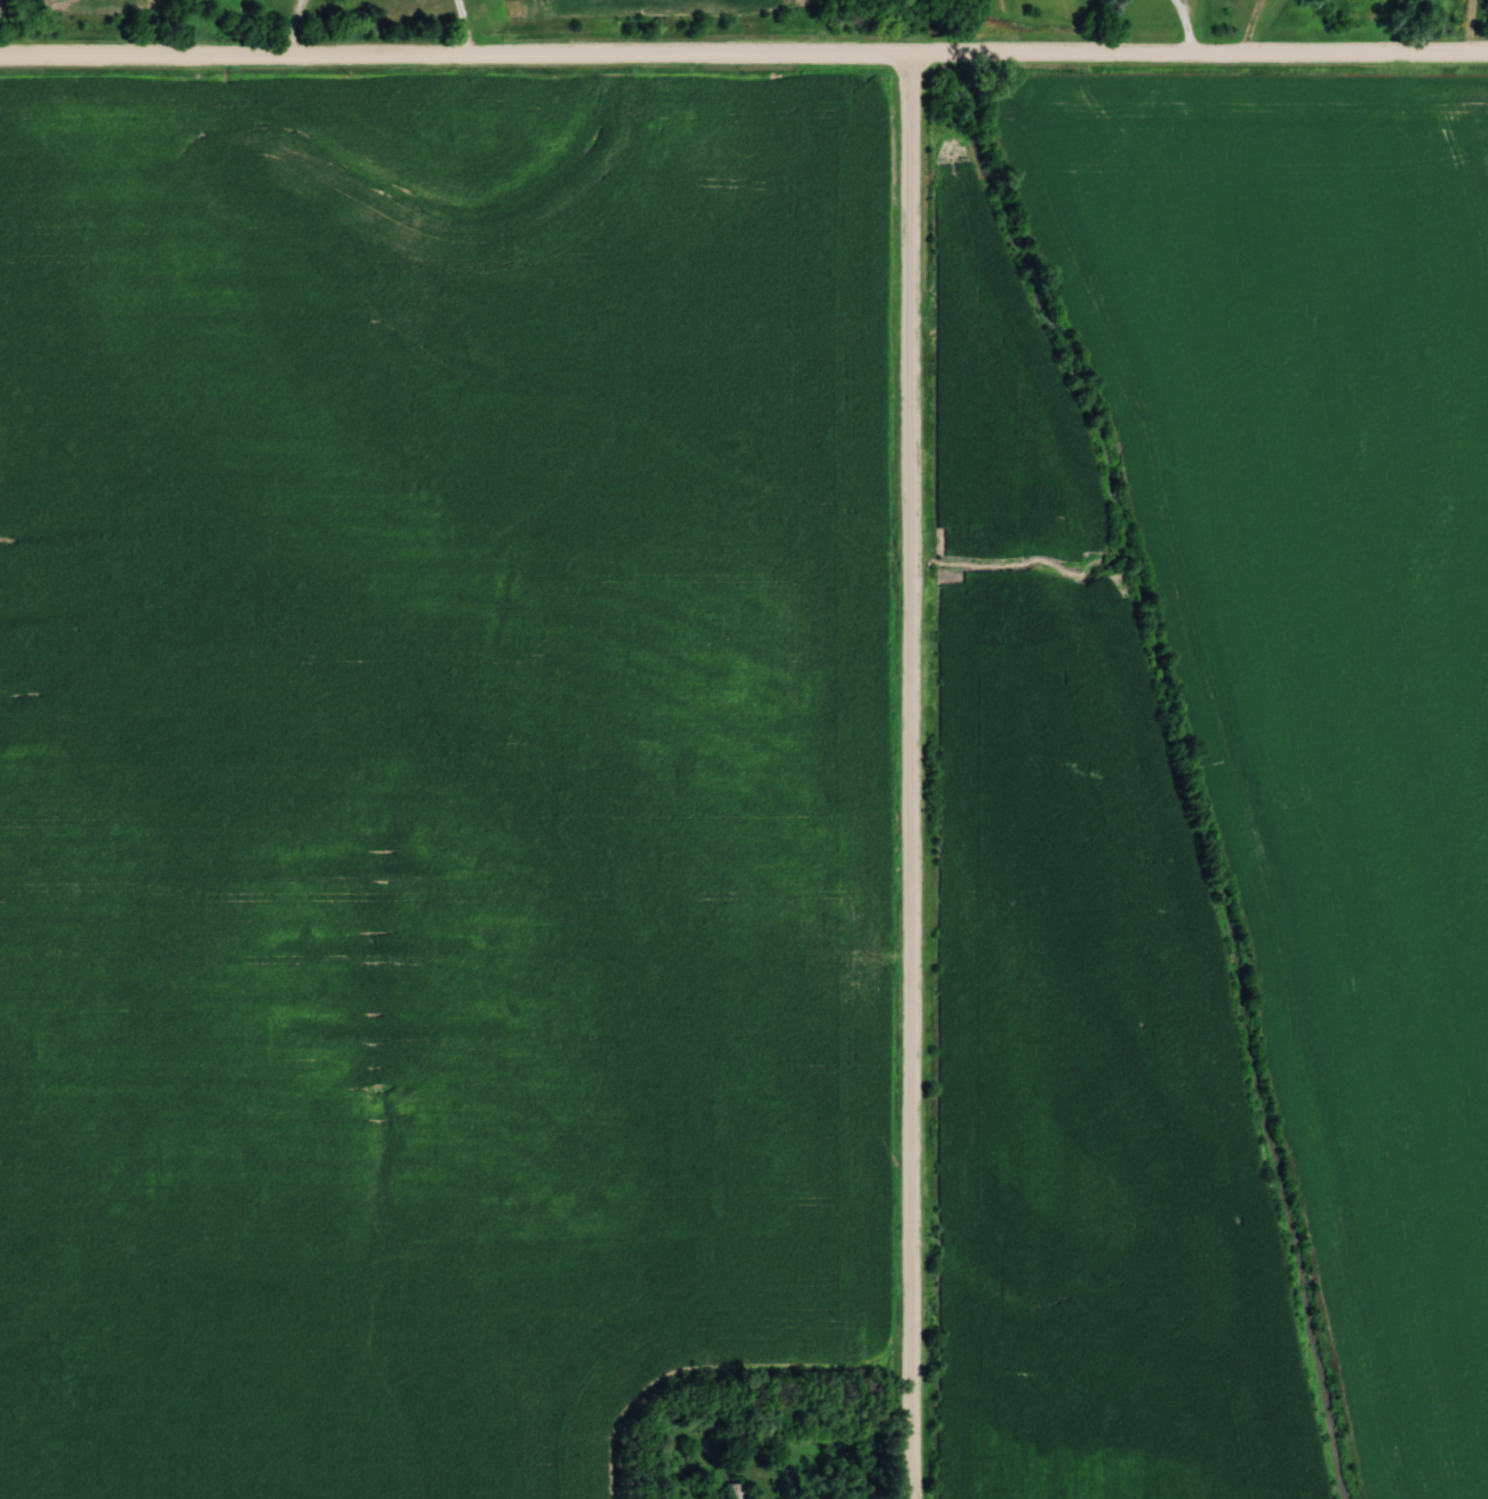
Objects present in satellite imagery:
road: (1186, 25)
road: (464, 26)
road: (295, 27)
road: (743, 52)
road: (911, 775)
building: (728, 1491)

